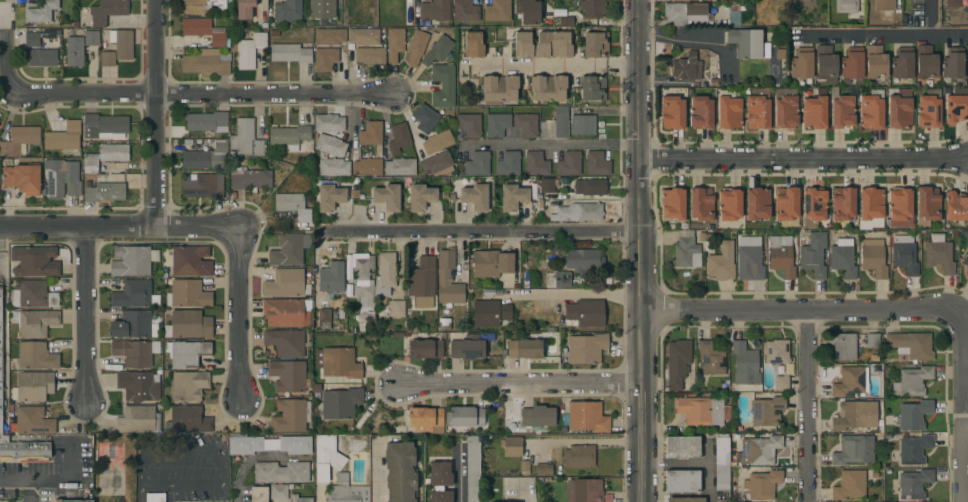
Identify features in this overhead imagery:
building: (681, 0)
building: (953, 3)
building: (884, 5)
building: (200, 6)
building: (846, 6)
building: (244, 8)
building: (593, 8)
building: (322, 9)
building: (41, 11)
building: (107, 11)
building: (288, 11)
building: (465, 11)
building: (497, 11)
building: (433, 12)
building: (529, 12)
building: (683, 12)
road: (931, 18)
building: (555, 20)
building: (204, 30)
building: (329, 36)
building: (364, 36)
road: (882, 37)
building: (91, 38)
building: (32, 39)
road: (695, 40)
building: (122, 43)
building: (748, 43)
building: (394, 44)
building: (473, 44)
building: (595, 44)
building: (543, 45)
building: (416, 46)
building: (249, 50)
building: (438, 50)
building: (74, 51)
building: (290, 53)
building: (370, 55)
building: (42, 57)
building: (107, 58)
building: (325, 59)
building: (926, 61)
building: (206, 62)
building: (825, 62)
building: (875, 62)
building: (967, 62)
road: (2, 63)
road: (550, 63)
building: (802, 63)
building: (902, 63)
building: (953, 63)
building: (852, 64)
building: (687, 67)
building: (443, 86)
building: (548, 87)
building: (499, 88)
building: (593, 88)
road: (203, 95)
building: (956, 105)
building: (785, 108)
building: (871, 108)
building: (758, 109)
building: (842, 109)
building: (899, 109)
building: (929, 109)
building: (728, 110)
building: (815, 110)
building: (672, 112)
building: (701, 112)
road: (155, 113)
building: (425, 118)
building: (205, 121)
building: (561, 122)
building: (328, 123)
building: (469, 124)
building: (497, 124)
building: (582, 124)
building: (104, 125)
building: (526, 125)
building: (370, 133)
building: (289, 136)
building: (399, 137)
building: (64, 138)
building: (246, 139)
building: (19, 140)
building: (437, 142)
road: (550, 144)
building: (330, 145)
building: (113, 152)
building: (206, 157)
road: (802, 160)
building: (436, 162)
building: (90, 163)
building: (478, 163)
building: (536, 163)
building: (597, 163)
building: (508, 164)
building: (569, 164)
building: (399, 166)
building: (334, 167)
building: (367, 167)
building: (22, 178)
building: (61, 178)
building: (249, 178)
building: (546, 185)
building: (203, 186)
building: (590, 187)
building: (103, 190)
building: (475, 196)
building: (329, 197)
building: (387, 197)
building: (420, 197)
building: (512, 197)
building: (758, 203)
building: (871, 203)
building: (673, 204)
building: (701, 204)
building: (730, 204)
building: (843, 204)
building: (927, 205)
building: (293, 206)
building: (787, 206)
building: (813, 206)
building: (956, 206)
building: (900, 208)
building: (579, 212)
road: (109, 226)
road: (479, 232)
building: (289, 249)
road: (637, 251)
building: (686, 251)
building: (939, 253)
building: (905, 254)
building: (781, 255)
building: (814, 255)
building: (843, 258)
building: (873, 258)
building: (750, 259)
building: (133, 260)
building: (187, 260)
building: (584, 260)
building: (966, 260)
building: (35, 261)
building: (721, 262)
building: (491, 263)
building: (331, 277)
building: (967, 278)
building: (448, 279)
building: (562, 279)
building: (372, 282)
building: (422, 282)
building: (286, 283)
road: (570, 292)
building: (134, 294)
building: (188, 294)
building: (33, 295)
road: (238, 308)
building: (397, 308)
building: (287, 312)
road: (85, 313)
building: (489, 313)
building: (586, 313)
road: (800, 313)
building: (324, 315)
building: (35, 322)
building: (444, 324)
building: (133, 325)
building: (188, 325)
building: (872, 340)
building: (286, 342)
building: (911, 344)
building: (844, 346)
building: (469, 347)
building: (586, 348)
building: (425, 349)
building: (524, 349)
building: (187, 352)
building: (133, 353)
building: (36, 356)
building: (711, 359)
building: (778, 361)
building: (337, 362)
building: (677, 363)
building: (745, 364)
building: (0, 369)
building: (287, 375)
road: (963, 375)
building: (851, 381)
building: (912, 381)
building: (189, 385)
building: (32, 386)
building: (138, 386)
road: (520, 386)
building: (341, 403)
road: (808, 407)
building: (766, 408)
building: (701, 410)
building: (290, 415)
building: (858, 415)
building: (914, 415)
building: (465, 416)
building: (537, 416)
building: (587, 417)
building: (424, 418)
building: (137, 420)
building: (188, 420)
building: (32, 421)
road: (965, 429)
road: (579, 442)
building: (268, 444)
building: (511, 446)
building: (682, 447)
building: (914, 449)
building: (24, 450)
building: (759, 450)
building: (854, 450)
building: (328, 452)
road: (220, 453)
building: (579, 456)
building: (722, 464)
road: (962, 465)
building: (524, 467)
road: (374, 469)
building: (543, 470)
building: (472, 471)
building: (281, 472)
building: (400, 472)
building: (440, 474)
road: (457, 475)
road: (53, 481)
building: (682, 481)
road: (237, 482)
building: (761, 484)
building: (914, 484)
building: (849, 485)
building: (346, 490)
road: (527, 490)
road: (27, 491)
building: (278, 491)
building: (584, 491)
building: (258, 494)
road: (141, 495)
building: (440, 496)
building: (89, 497)
building: (154, 497)
building: (300, 498)
building: (685, 500)
building: (722, 501)

